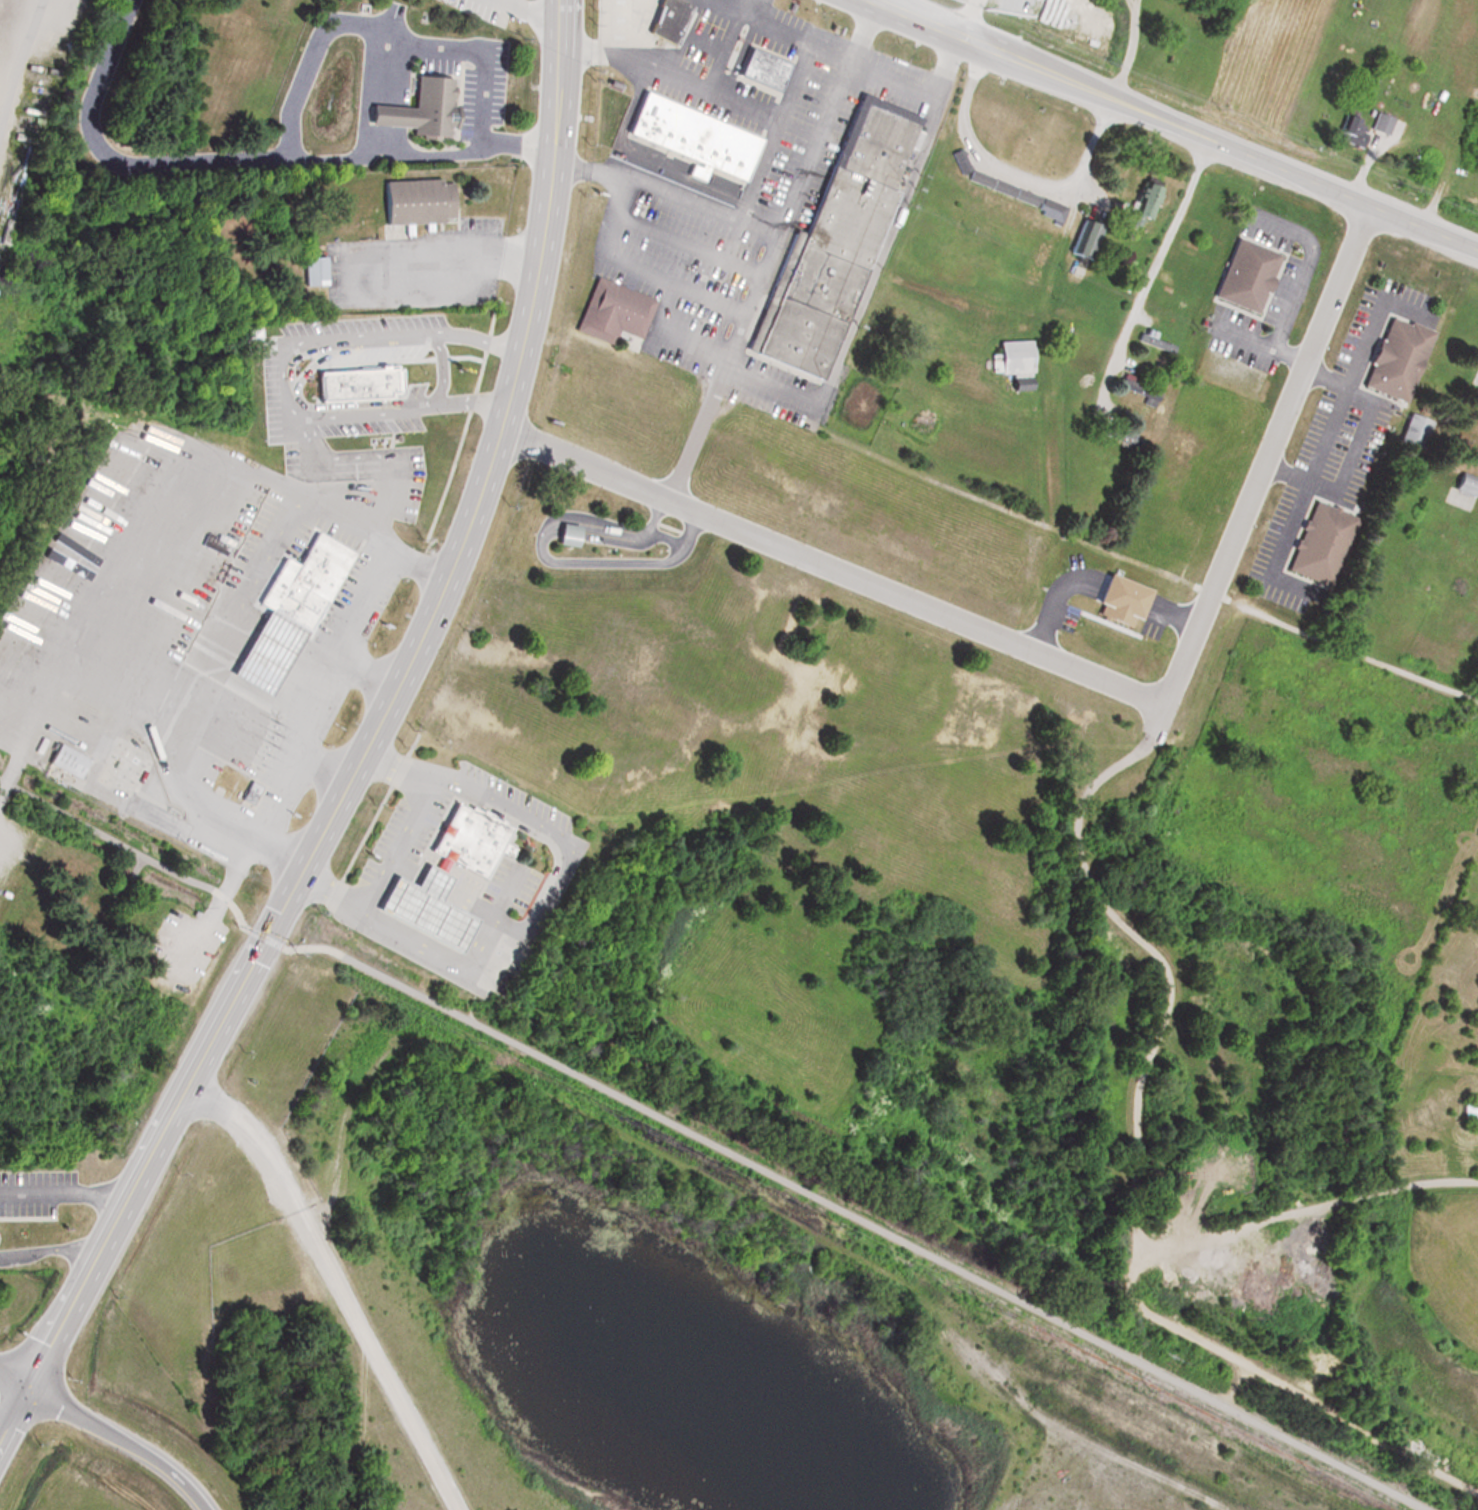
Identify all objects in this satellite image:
road: (750, 5)
road: (1133, 7)
road: (1137, 7)
road: (536, 13)
building: (667, 18)
road: (968, 18)
building: (618, 21)
road: (598, 24)
road: (381, 27)
road: (786, 29)
road: (1129, 58)
building: (766, 71)
road: (689, 80)
road: (918, 90)
building: (426, 113)
building: (1380, 122)
road: (1176, 125)
building: (1349, 129)
building: (698, 139)
road: (244, 163)
road: (1011, 173)
building: (1002, 185)
road: (702, 200)
building: (422, 203)
building: (1136, 203)
building: (836, 248)
road: (475, 249)
road: (1302, 266)
building: (1235, 268)
building: (311, 270)
road: (1153, 273)
building: (1170, 293)
road: (747, 301)
building: (616, 313)
building: (1151, 337)
road: (1262, 342)
road: (713, 354)
building: (1010, 354)
building: (1390, 356)
road: (285, 372)
building: (1014, 380)
road: (1321, 380)
building: (1476, 381)
building: (1135, 385)
building: (362, 386)
road: (1343, 390)
building: (1410, 429)
road: (697, 430)
building: (1118, 431)
road: (1354, 445)
road: (342, 454)
road: (1264, 455)
road: (316, 475)
building: (1461, 490)
road: (381, 502)
road: (286, 518)
road: (667, 525)
building: (562, 534)
road: (664, 535)
building: (1314, 543)
road: (1276, 546)
road: (548, 557)
road: (828, 567)
building: (304, 577)
building: (256, 645)
road: (1355, 650)
road: (368, 670)
road: (321, 695)
road: (366, 744)
building: (62, 759)
road: (320, 766)
road: (444, 785)
road: (417, 815)
building: (469, 839)
road: (565, 870)
road: (215, 901)
building: (428, 910)
road: (382, 921)
road: (1165, 966)
building: (1463, 1111)
road: (705, 1144)
road: (60, 1195)
road: (47, 1252)
road: (334, 1284)
road: (1132, 1297)
road: (11, 1379)
road: (115, 1441)

